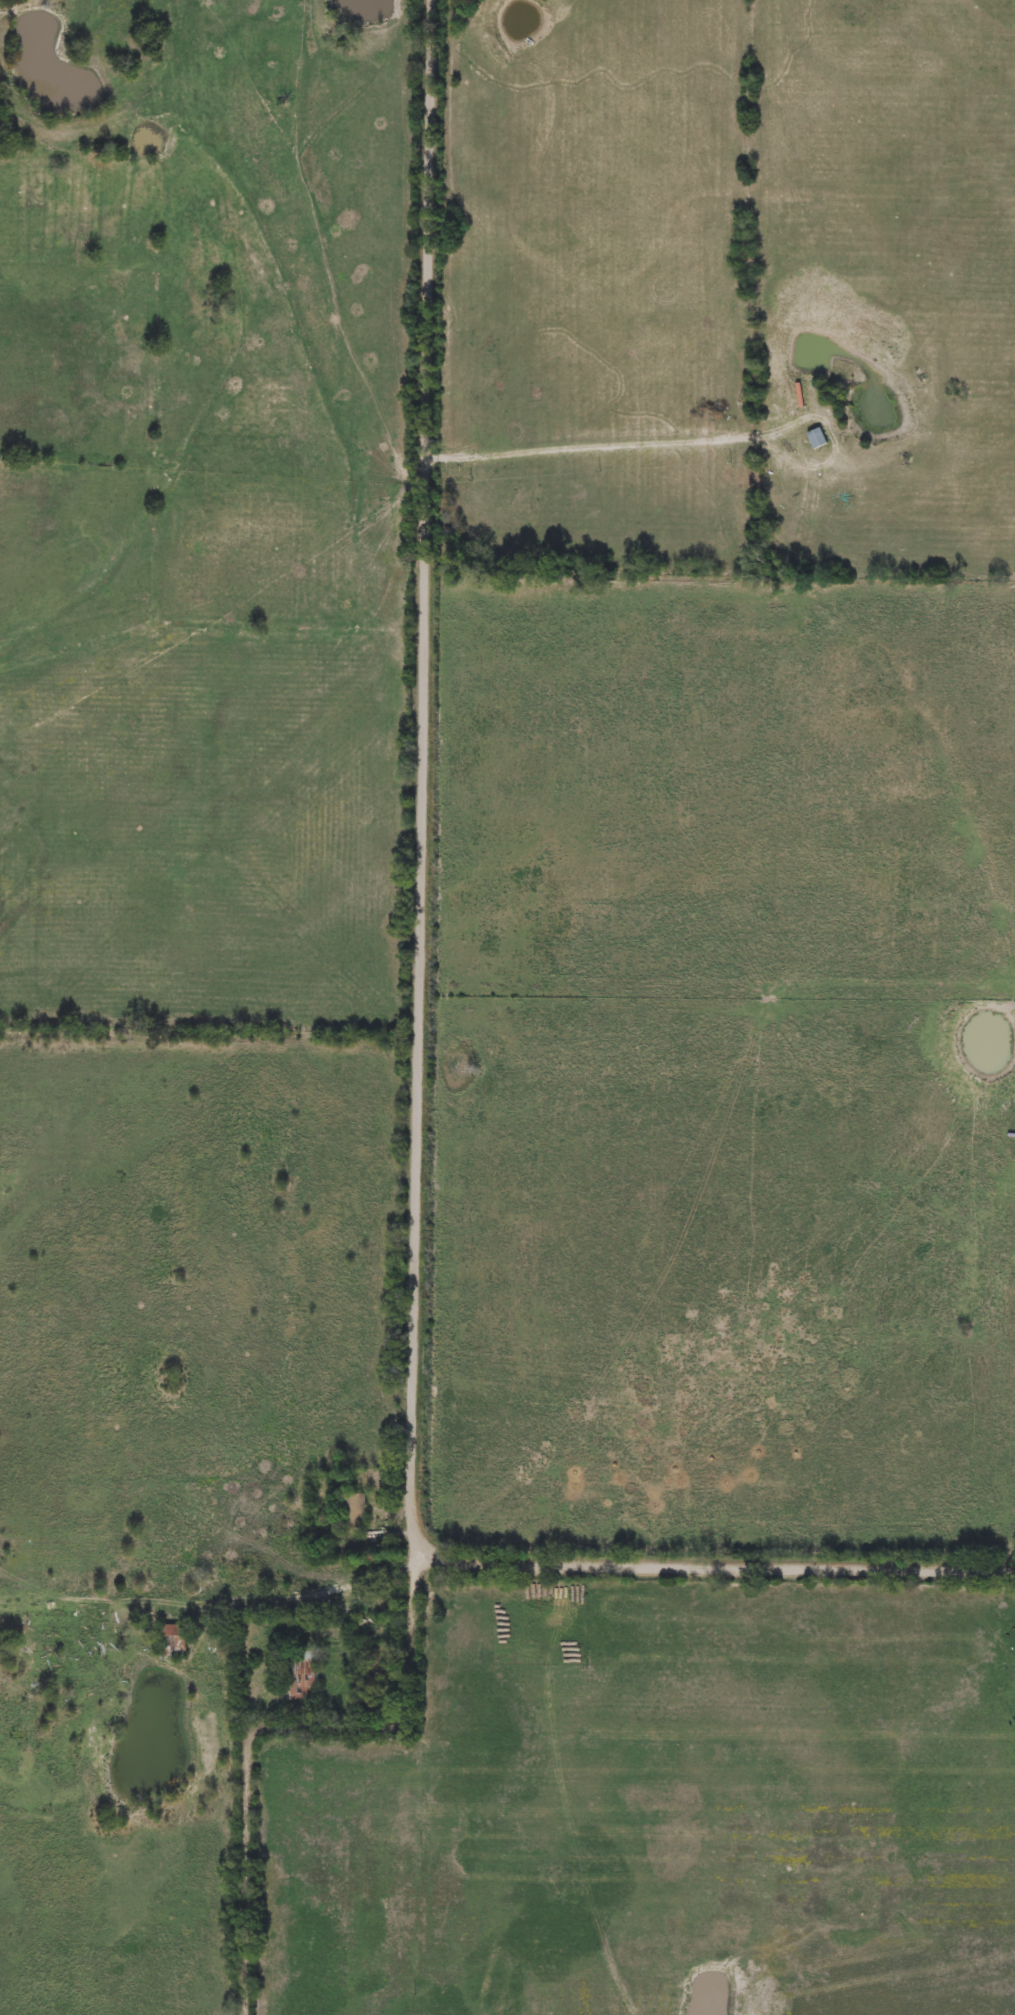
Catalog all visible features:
road: (634, 446)
road: (425, 779)
building: (352, 1511)
road: (717, 1567)
road: (214, 1602)
building: (175, 1642)
building: (303, 1673)
road: (267, 1725)

